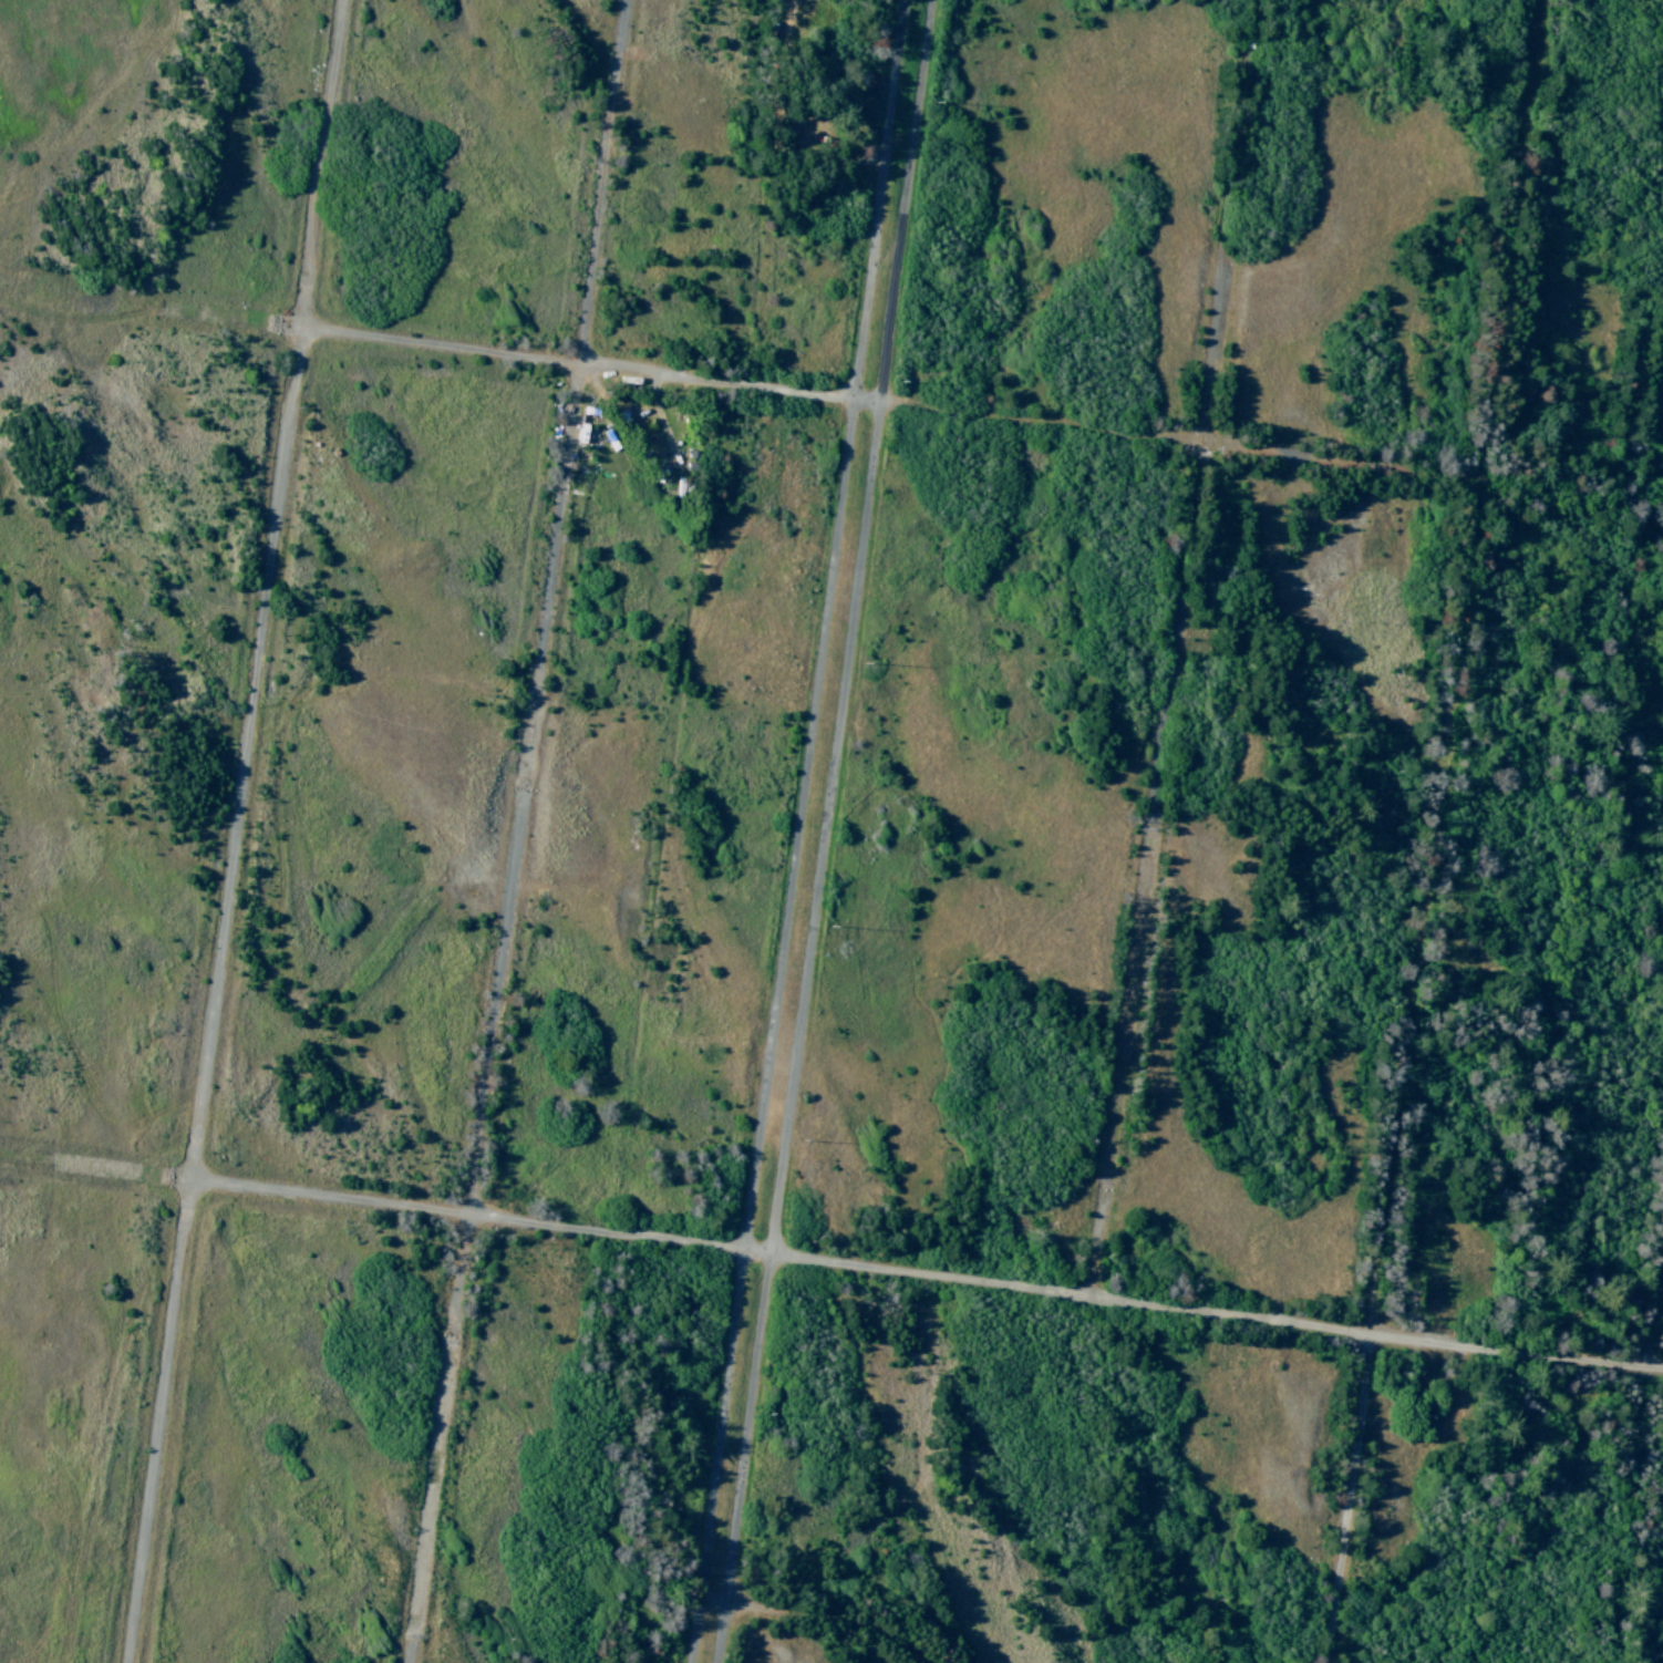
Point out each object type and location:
road: (233, 321)
road: (982, 416)
building: (579, 432)
road: (1168, 723)
road: (235, 830)
road: (800, 830)
road: (828, 830)
road: (518, 832)
road: (1437, 832)
road: (121, 1173)
road: (926, 1278)
road: (1638, 1468)
road: (820, 1614)

